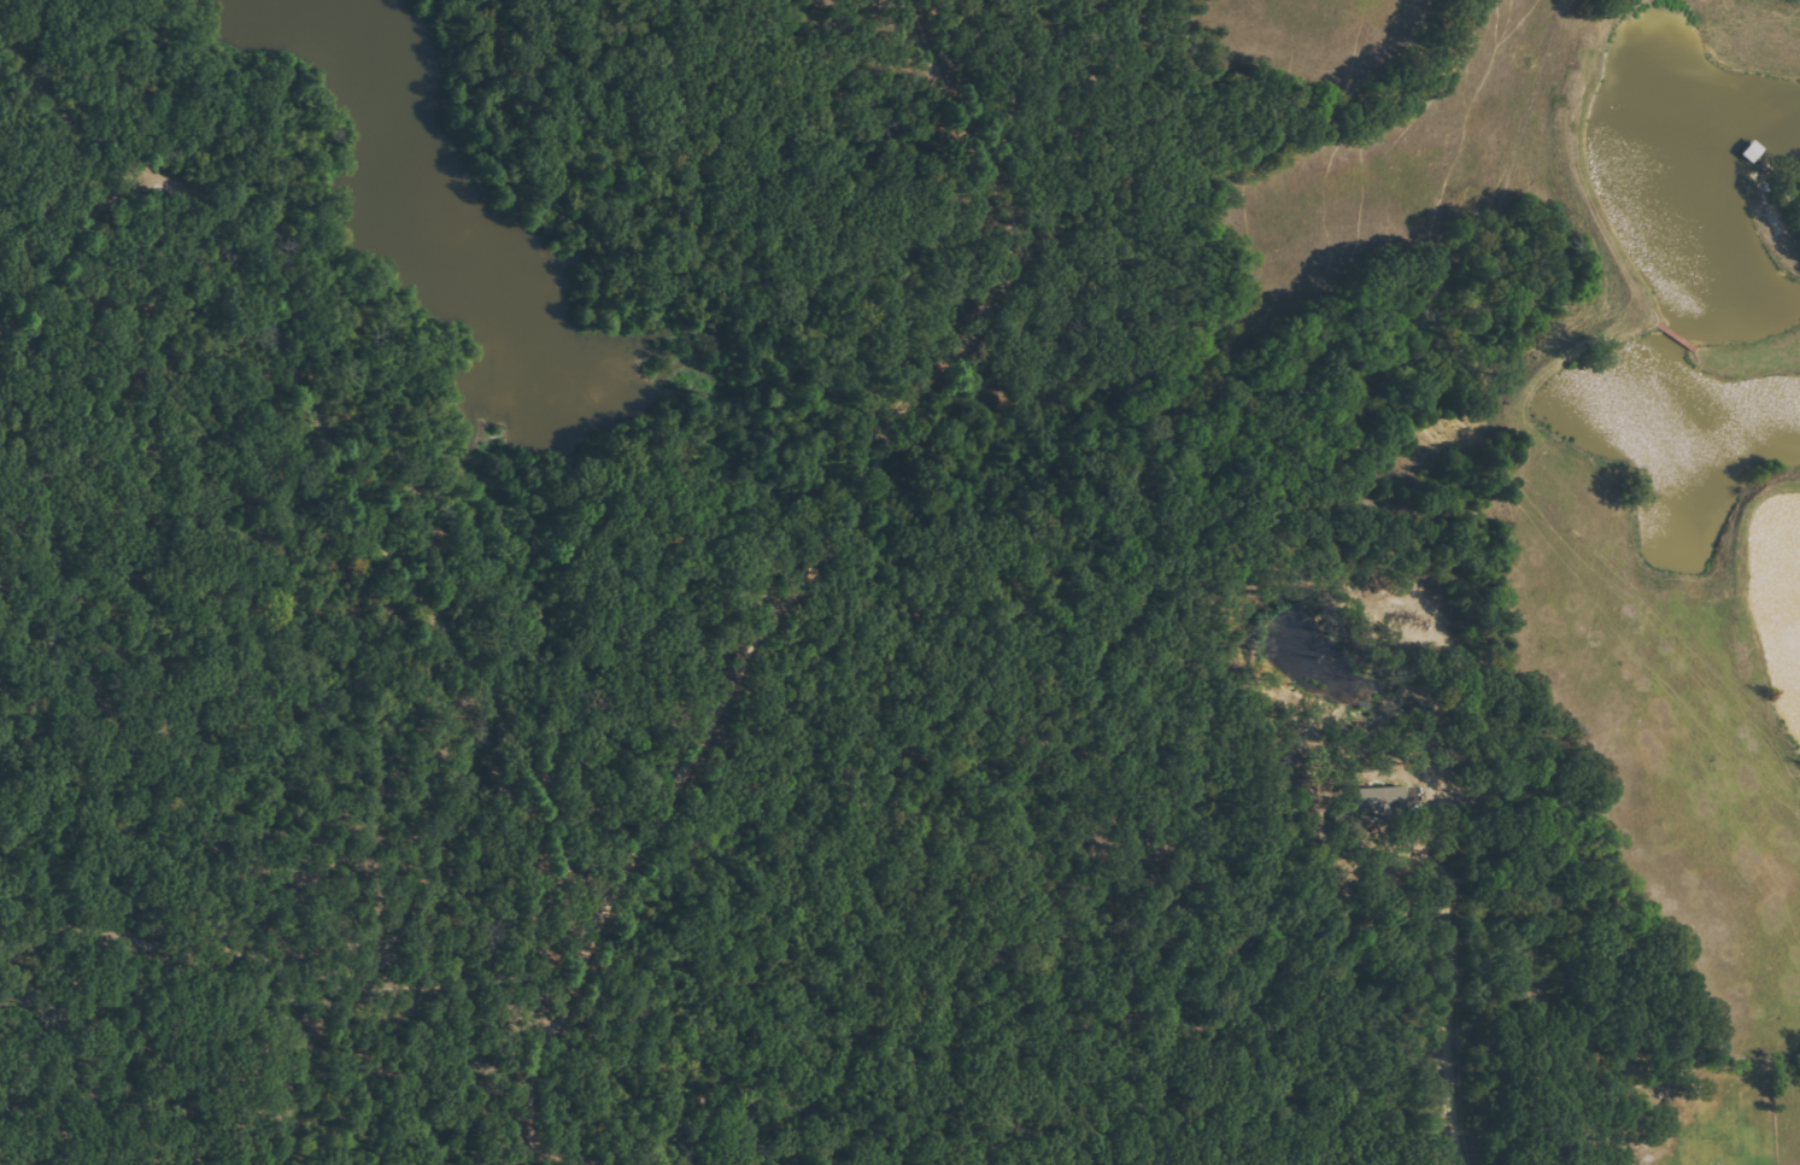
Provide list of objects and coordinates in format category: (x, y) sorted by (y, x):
road: (6, 66)
road: (239, 437)
road: (681, 562)
road: (1455, 1006)

